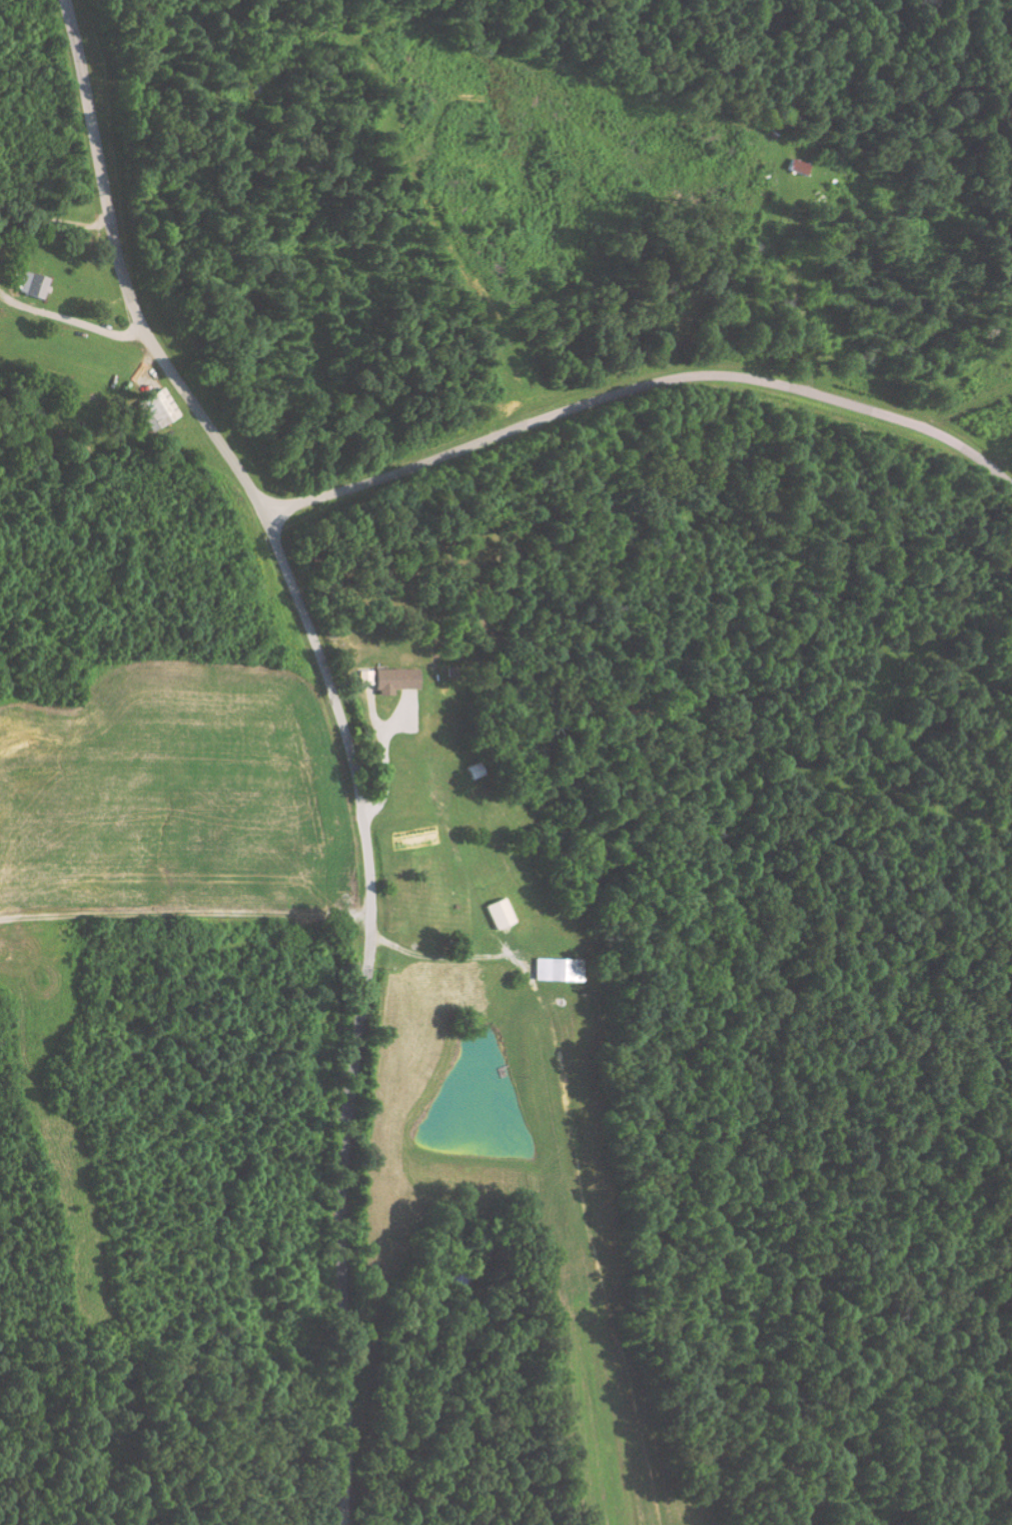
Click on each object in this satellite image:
building: (799, 166)
road: (639, 386)
building: (160, 410)
road: (251, 492)
building: (397, 679)
building: (476, 770)
building: (559, 968)
road: (342, 1264)

